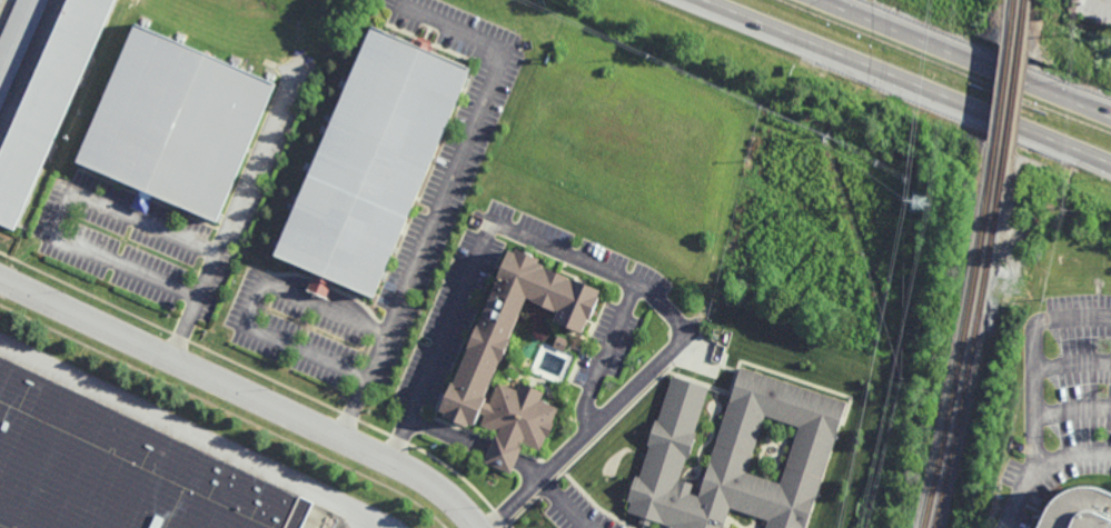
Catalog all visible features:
building: (0, 0)
road: (3, 9)
building: (18, 40)
road: (963, 59)
road: (29, 63)
railway: (1002, 76)
railway: (1011, 77)
road: (905, 81)
building: (47, 101)
road: (1088, 108)
building: (175, 122)
building: (371, 161)
road: (1108, 162)
road: (438, 193)
power tower: (915, 205)
road: (237, 210)
road: (62, 212)
road: (612, 273)
road: (258, 303)
railway: (963, 340)
railway: (970, 341)
road: (605, 353)
building: (479, 357)
road: (1034, 360)
road: (1073, 367)
road: (246, 393)
road: (1072, 410)
road: (191, 434)
road: (449, 435)
road: (500, 455)
building: (736, 455)
road: (528, 467)
road: (1042, 468)
building: (117, 469)
road: (562, 502)
building: (1079, 509)
parking lot: (578, 512)
road: (384, 524)

